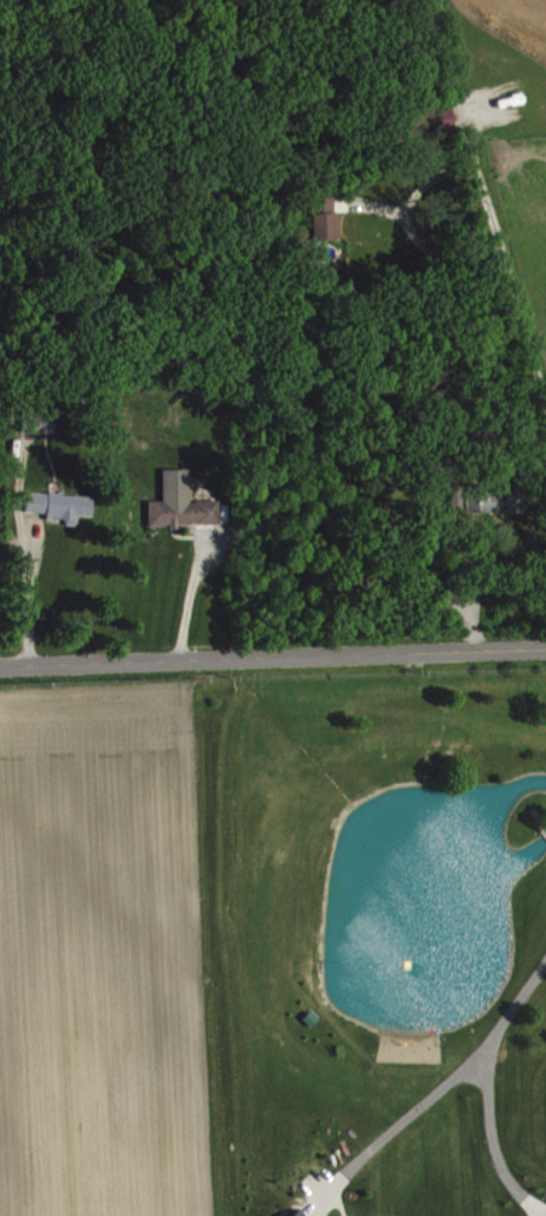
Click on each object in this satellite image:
building: (440, 115)
road: (417, 185)
building: (327, 218)
road: (528, 315)
building: (42, 419)
building: (494, 496)
building: (184, 502)
building: (63, 505)
road: (29, 595)
road: (187, 598)
road: (272, 661)
road: (454, 1079)
road: (495, 1146)
building: (298, 1215)

